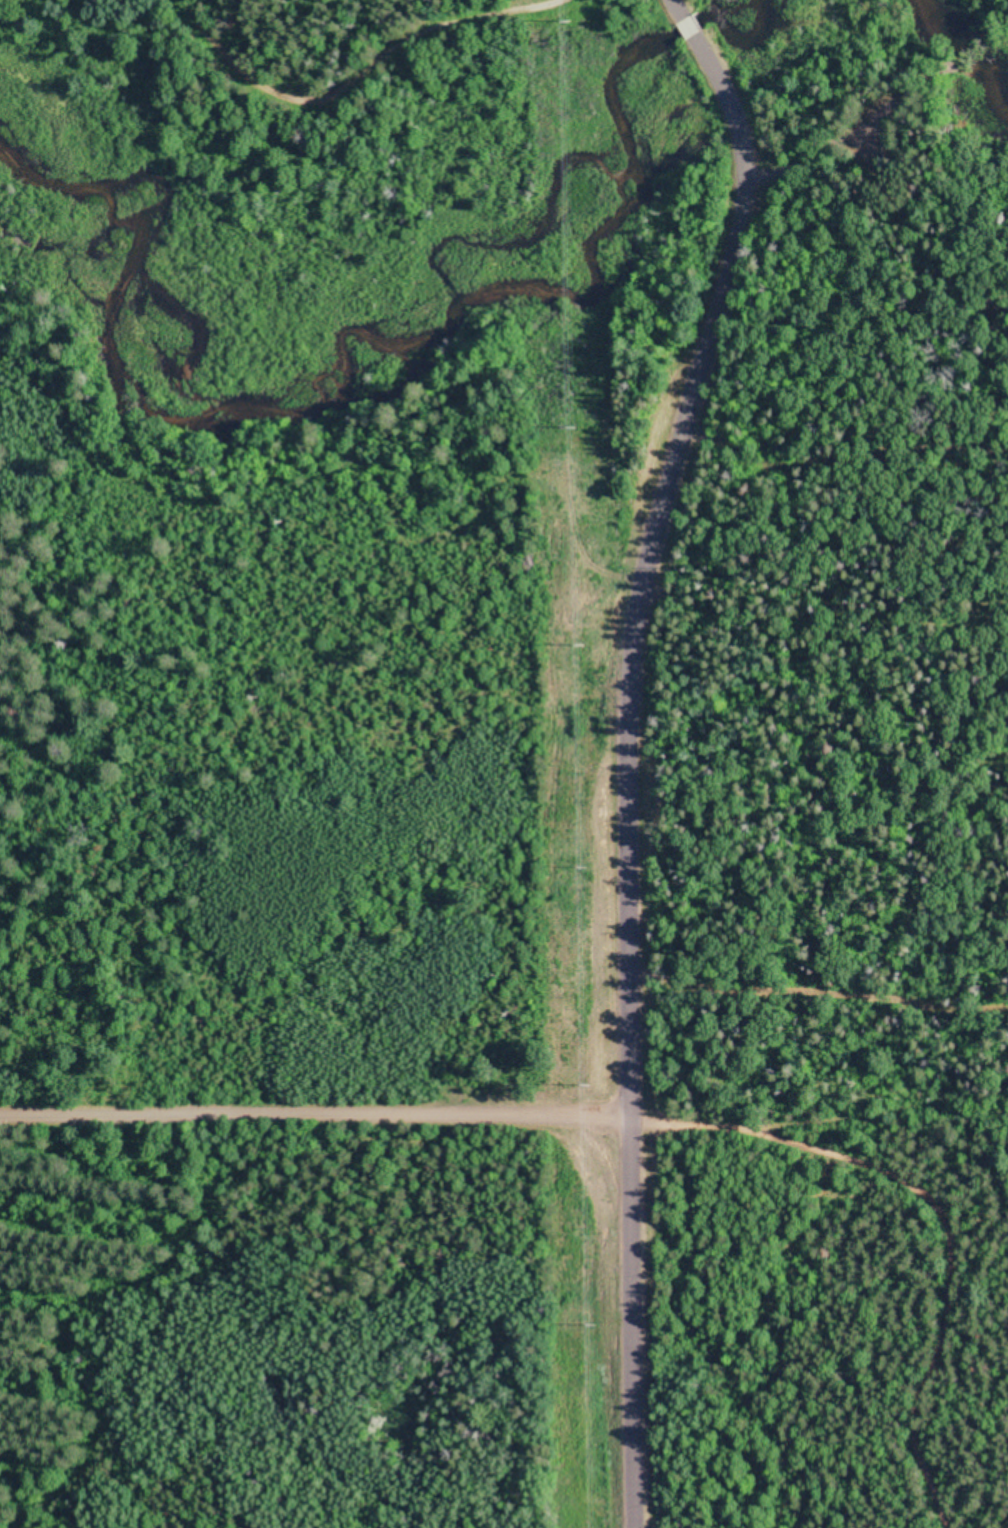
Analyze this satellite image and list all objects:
road: (330, 58)
road: (634, 746)
road: (884, 1078)
road: (319, 1105)
road: (835, 1166)

